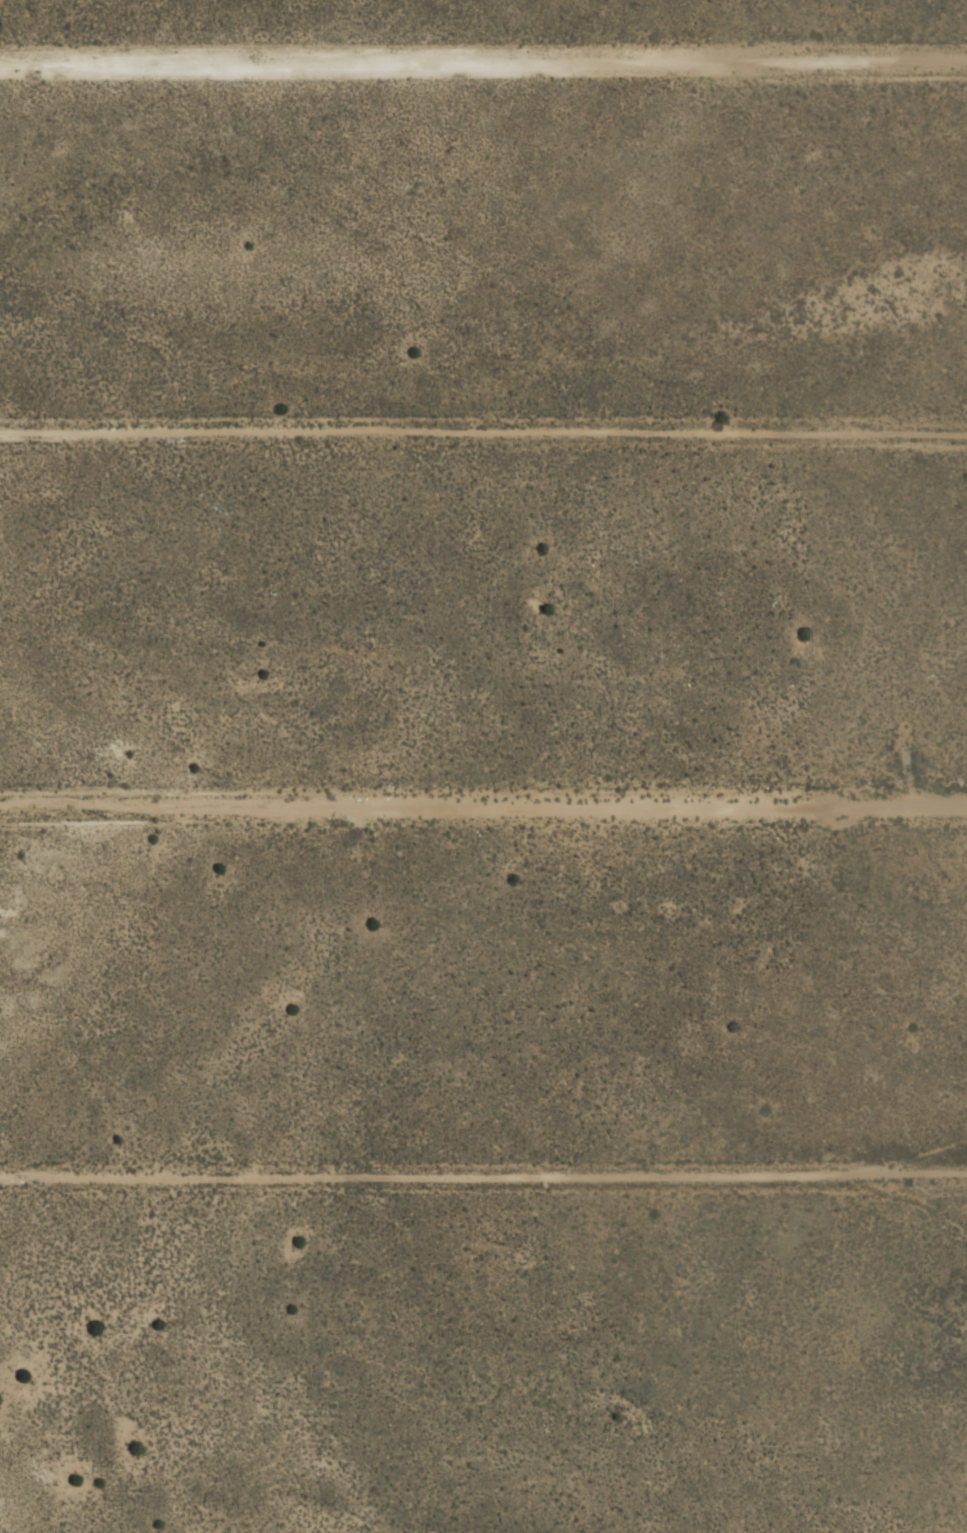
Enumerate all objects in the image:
road: (483, 60)
road: (483, 433)
road: (483, 811)
road: (483, 1177)

